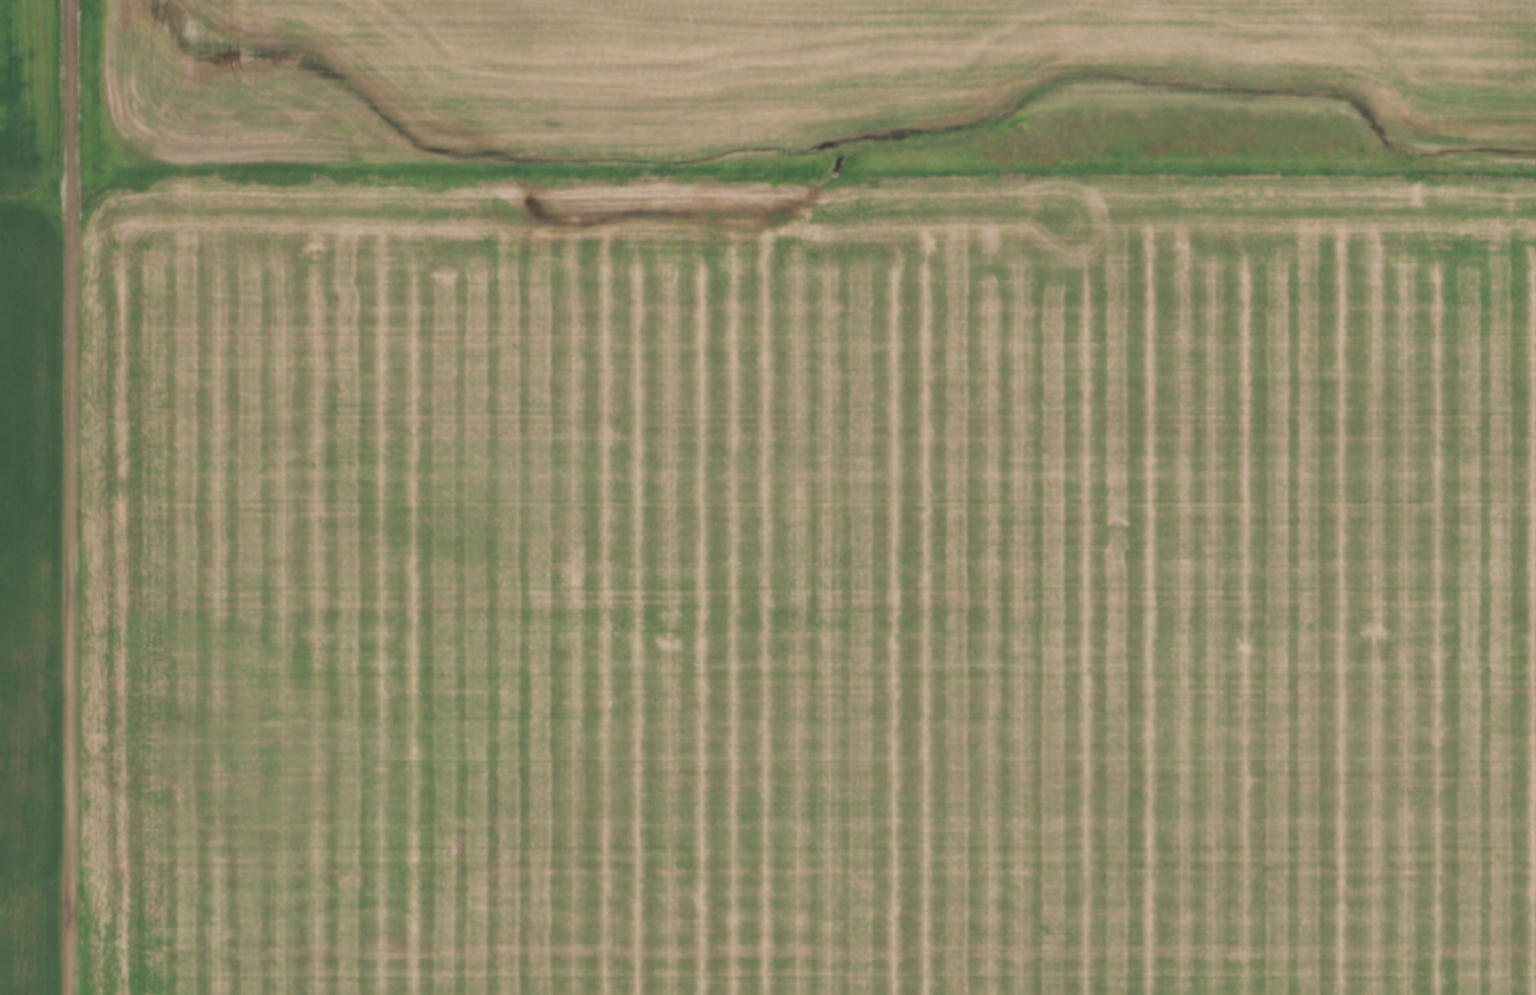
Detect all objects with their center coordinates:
road: (35, 194)
road: (68, 497)

